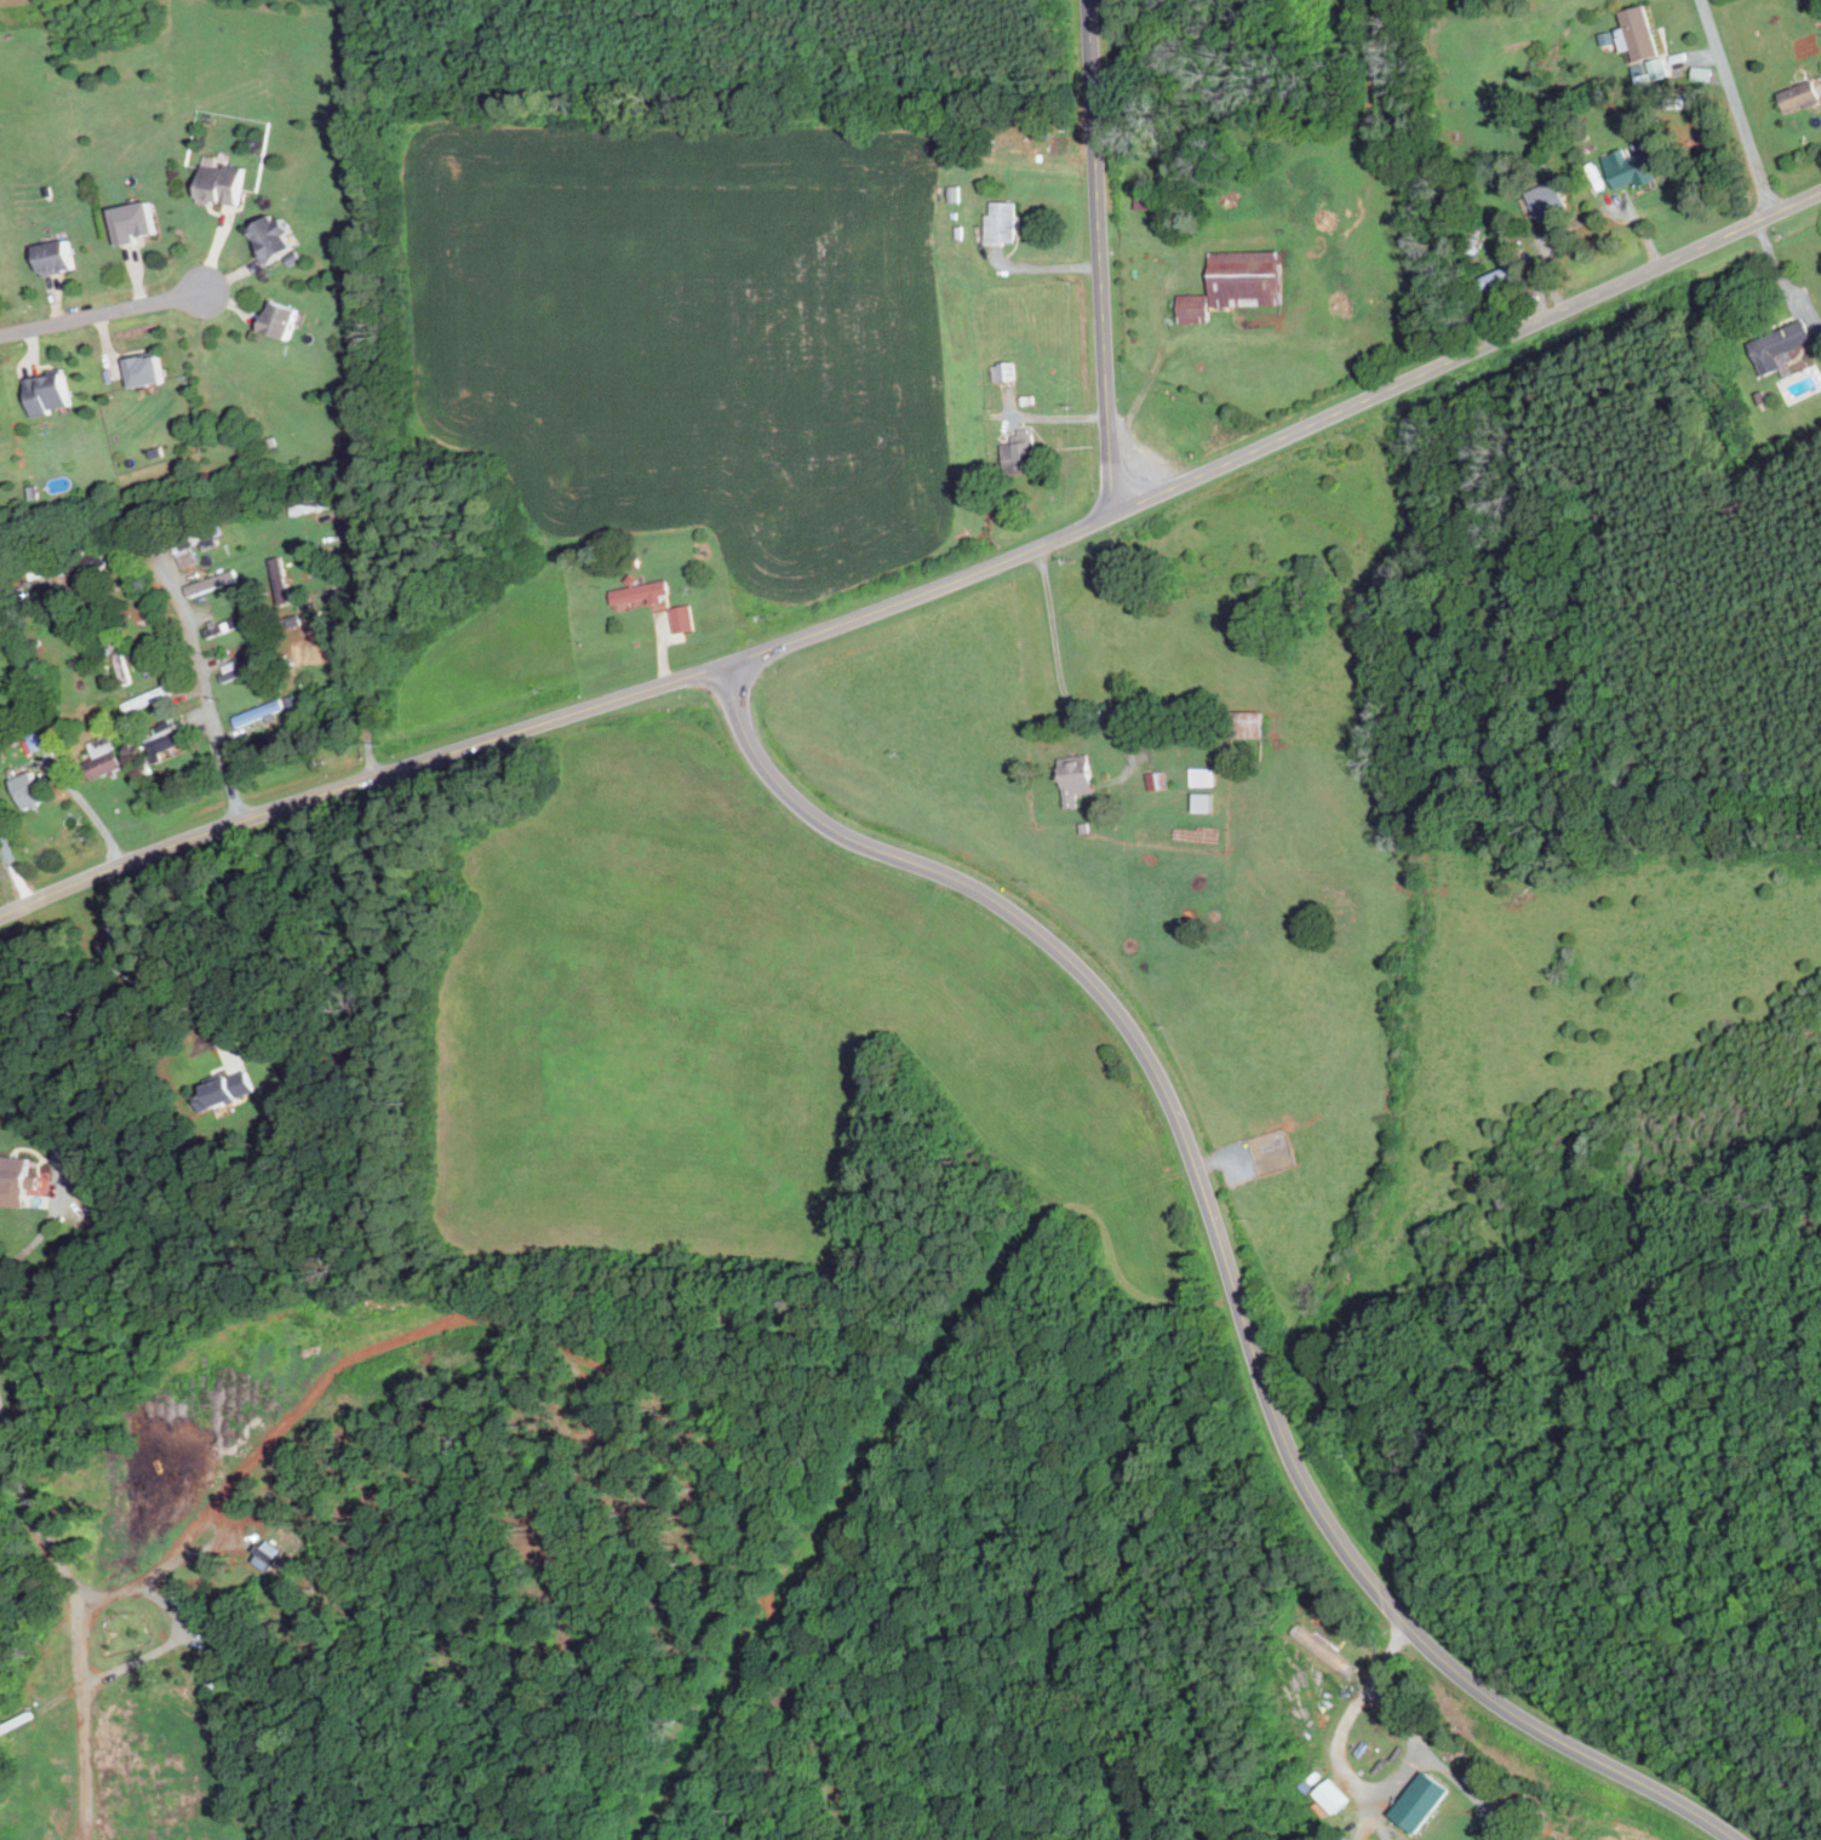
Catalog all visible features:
building: (1809, 5)
building: (1642, 31)
building: (1808, 47)
building: (1660, 68)
building: (1706, 73)
building: (1644, 75)
building: (1802, 94)
road: (1736, 107)
building: (1454, 136)
building: (1636, 166)
building: (221, 182)
building: (955, 193)
building: (1156, 195)
building: (1548, 200)
building: (955, 214)
building: (132, 219)
building: (1001, 223)
building: (1476, 230)
building: (960, 231)
building: (271, 237)
building: (1495, 242)
building: (1473, 245)
building: (55, 256)
building: (293, 257)
road: (1100, 258)
road: (1043, 266)
building: (1247, 277)
building: (1498, 277)
road: (1783, 277)
building: (1195, 308)
road: (102, 311)
building: (280, 320)
building: (1781, 344)
road: (1467, 355)
building: (143, 369)
building: (1003, 369)
building: (46, 392)
building: (1027, 400)
building: (1020, 452)
building: (68, 465)
building: (310, 506)
building: (185, 546)
building: (634, 561)
building: (631, 579)
building: (280, 580)
building: (211, 581)
building: (641, 592)
building: (682, 619)
building: (225, 626)
road: (370, 637)
building: (118, 659)
building: (239, 669)
road: (1060, 669)
building: (41, 672)
road: (206, 690)
building: (148, 699)
building: (260, 712)
building: (46, 720)
road: (557, 720)
building: (51, 735)
building: (168, 738)
building: (36, 741)
building: (102, 757)
building: (1201, 776)
building: (1073, 778)
building: (1152, 780)
building: (28, 791)
building: (1201, 802)
road: (92, 812)
road: (12, 873)
road: (125, 973)
building: (227, 1088)
road: (57, 1169)
building: (47, 1175)
building: (15, 1181)
building: (103, 1223)
road: (1225, 1254)
building: (63, 1255)
road: (147, 1577)
road: (76, 1616)
road: (164, 1647)
road: (1351, 1776)
road: (1465, 1784)
building: (1334, 1795)
building: (1422, 1801)

